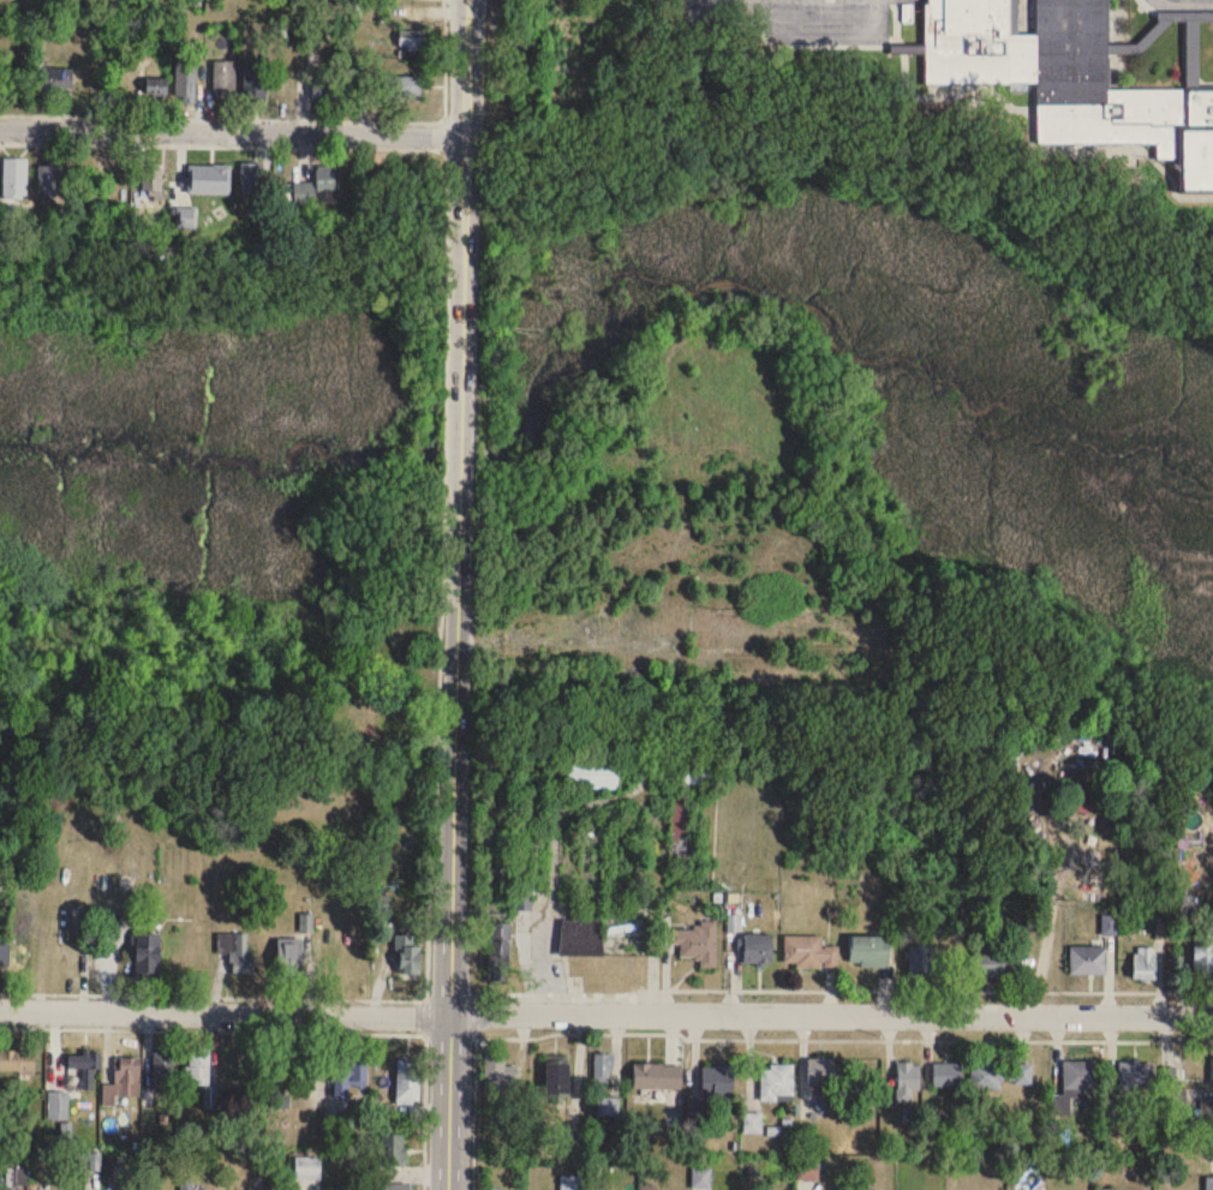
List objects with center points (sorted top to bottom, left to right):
road: (1188, 1)
building: (412, 40)
building: (255, 78)
building: (1068, 78)
building: (223, 79)
building: (185, 80)
building: (285, 84)
building: (327, 84)
building: (155, 88)
building: (402, 88)
building: (54, 90)
road: (232, 131)
building: (252, 177)
building: (14, 178)
building: (49, 179)
building: (121, 179)
building: (151, 179)
building: (208, 179)
building: (317, 186)
building: (186, 217)
road: (442, 498)
road: (458, 594)
building: (592, 771)
building: (685, 771)
building: (534, 797)
building: (498, 904)
building: (599, 939)
building: (695, 944)
building: (758, 949)
building: (237, 952)
building: (500, 952)
building: (809, 952)
building: (870, 952)
building: (408, 955)
building: (147, 956)
building: (1202, 956)
building: (289, 959)
building: (1088, 961)
building: (991, 963)
building: (1145, 964)
building: (920, 967)
road: (823, 988)
road: (231, 997)
road: (605, 1012)
road: (211, 1029)
road: (765, 1037)
building: (17, 1063)
building: (84, 1069)
building: (163, 1069)
building: (603, 1069)
building: (197, 1070)
building: (823, 1070)
building: (1212, 1072)
building: (1000, 1075)
building: (948, 1076)
building: (1080, 1076)
building: (1136, 1076)
building: (657, 1077)
building: (1173, 1077)
building: (500, 1078)
building: (348, 1080)
building: (556, 1080)
building: (773, 1080)
building: (717, 1081)
building: (123, 1082)
building: (408, 1082)
building: (908, 1082)
building: (608, 1106)
building: (752, 1124)
building: (393, 1150)
building: (307, 1167)
building: (808, 1167)
building: (1207, 1182)
building: (394, 1186)

